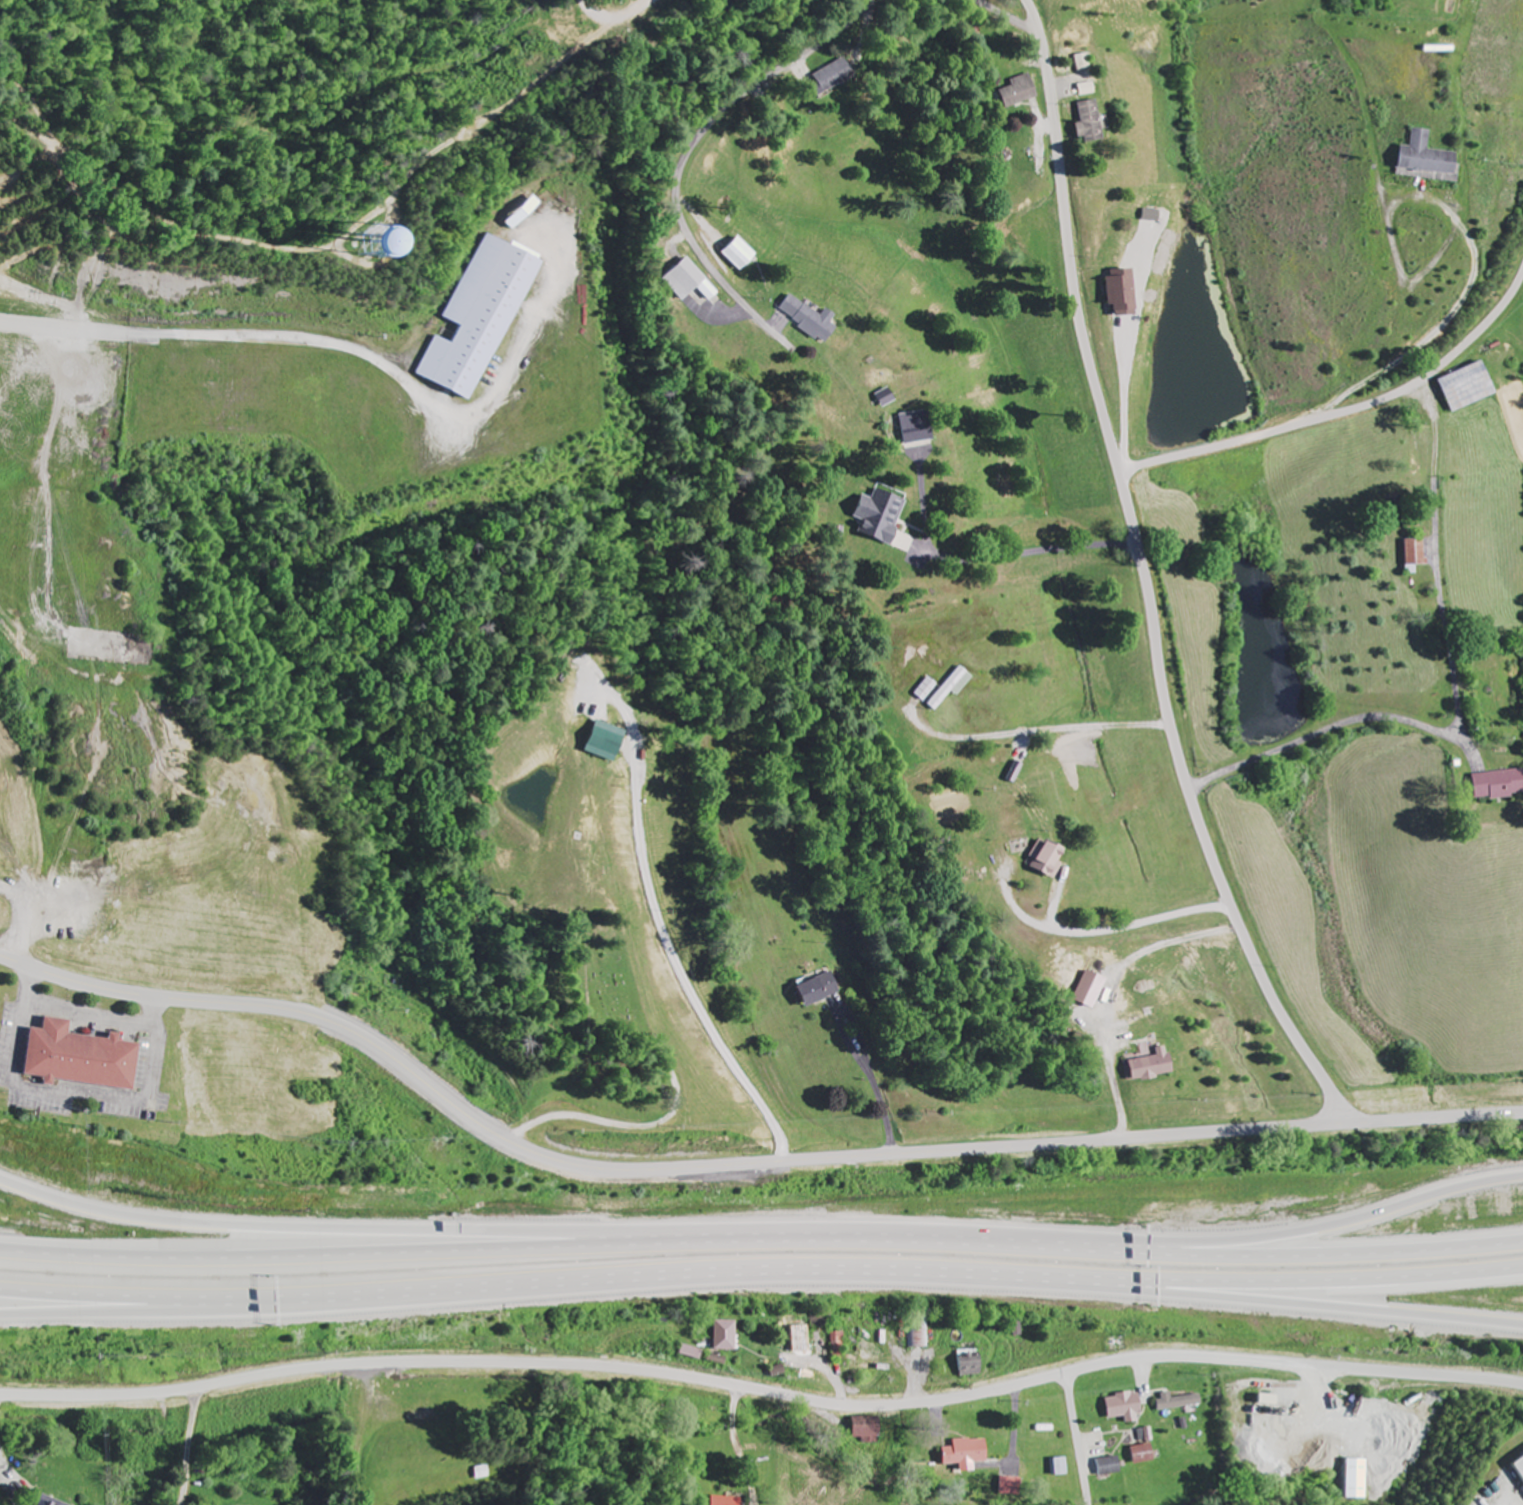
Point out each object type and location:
road: (1006, 17)
building: (1084, 63)
building: (833, 76)
building: (1087, 90)
building: (1021, 92)
road: (520, 97)
building: (1090, 123)
road: (693, 141)
building: (1154, 216)
building: (406, 250)
building: (742, 255)
road: (351, 258)
building: (690, 282)
building: (1125, 293)
building: (479, 318)
building: (809, 319)
road: (323, 339)
building: (1471, 388)
building: (886, 399)
building: (917, 428)
building: (882, 516)
building: (1417, 554)
road: (1144, 573)
building: (956, 687)
building: (608, 741)
building: (1499, 785)
building: (1051, 859)
building: (822, 989)
building: (1093, 989)
building: (83, 1057)
building: (1155, 1065)
road: (668, 1116)
road: (737, 1163)
road: (309, 1227)
road: (1201, 1238)
road: (435, 1242)
road: (1197, 1249)
road: (570, 1278)
road: (1332, 1280)
road: (1331, 1302)
road: (153, 1304)
building: (727, 1336)
building: (921, 1338)
building: (972, 1366)
road: (762, 1391)
building: (1179, 1403)
building: (1127, 1407)
building: (868, 1430)
road: (1077, 1439)
road: (181, 1446)
building: (1146, 1448)
building: (968, 1455)
building: (1112, 1466)
building: (1520, 1466)
building: (1063, 1468)
building: (1357, 1479)
building: (1013, 1487)
building: (47, 1501)
building: (726, 1501)

